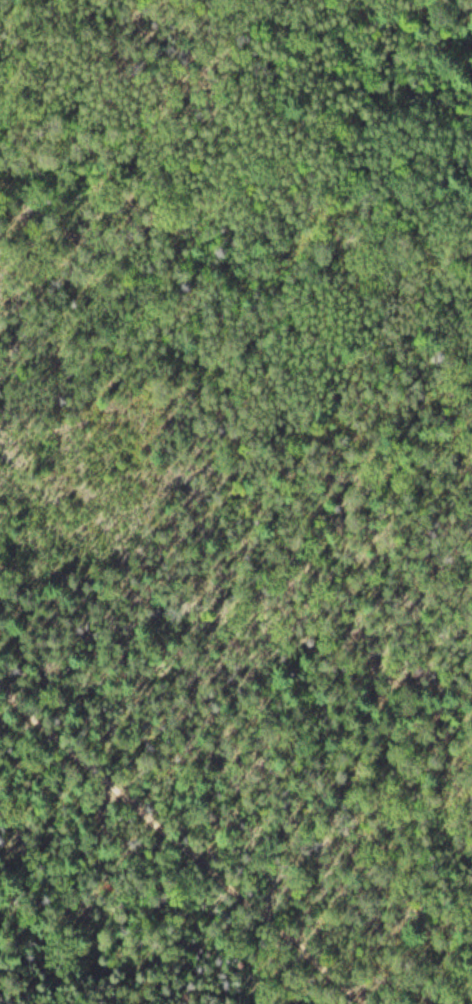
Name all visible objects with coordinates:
road: (184, 845)

